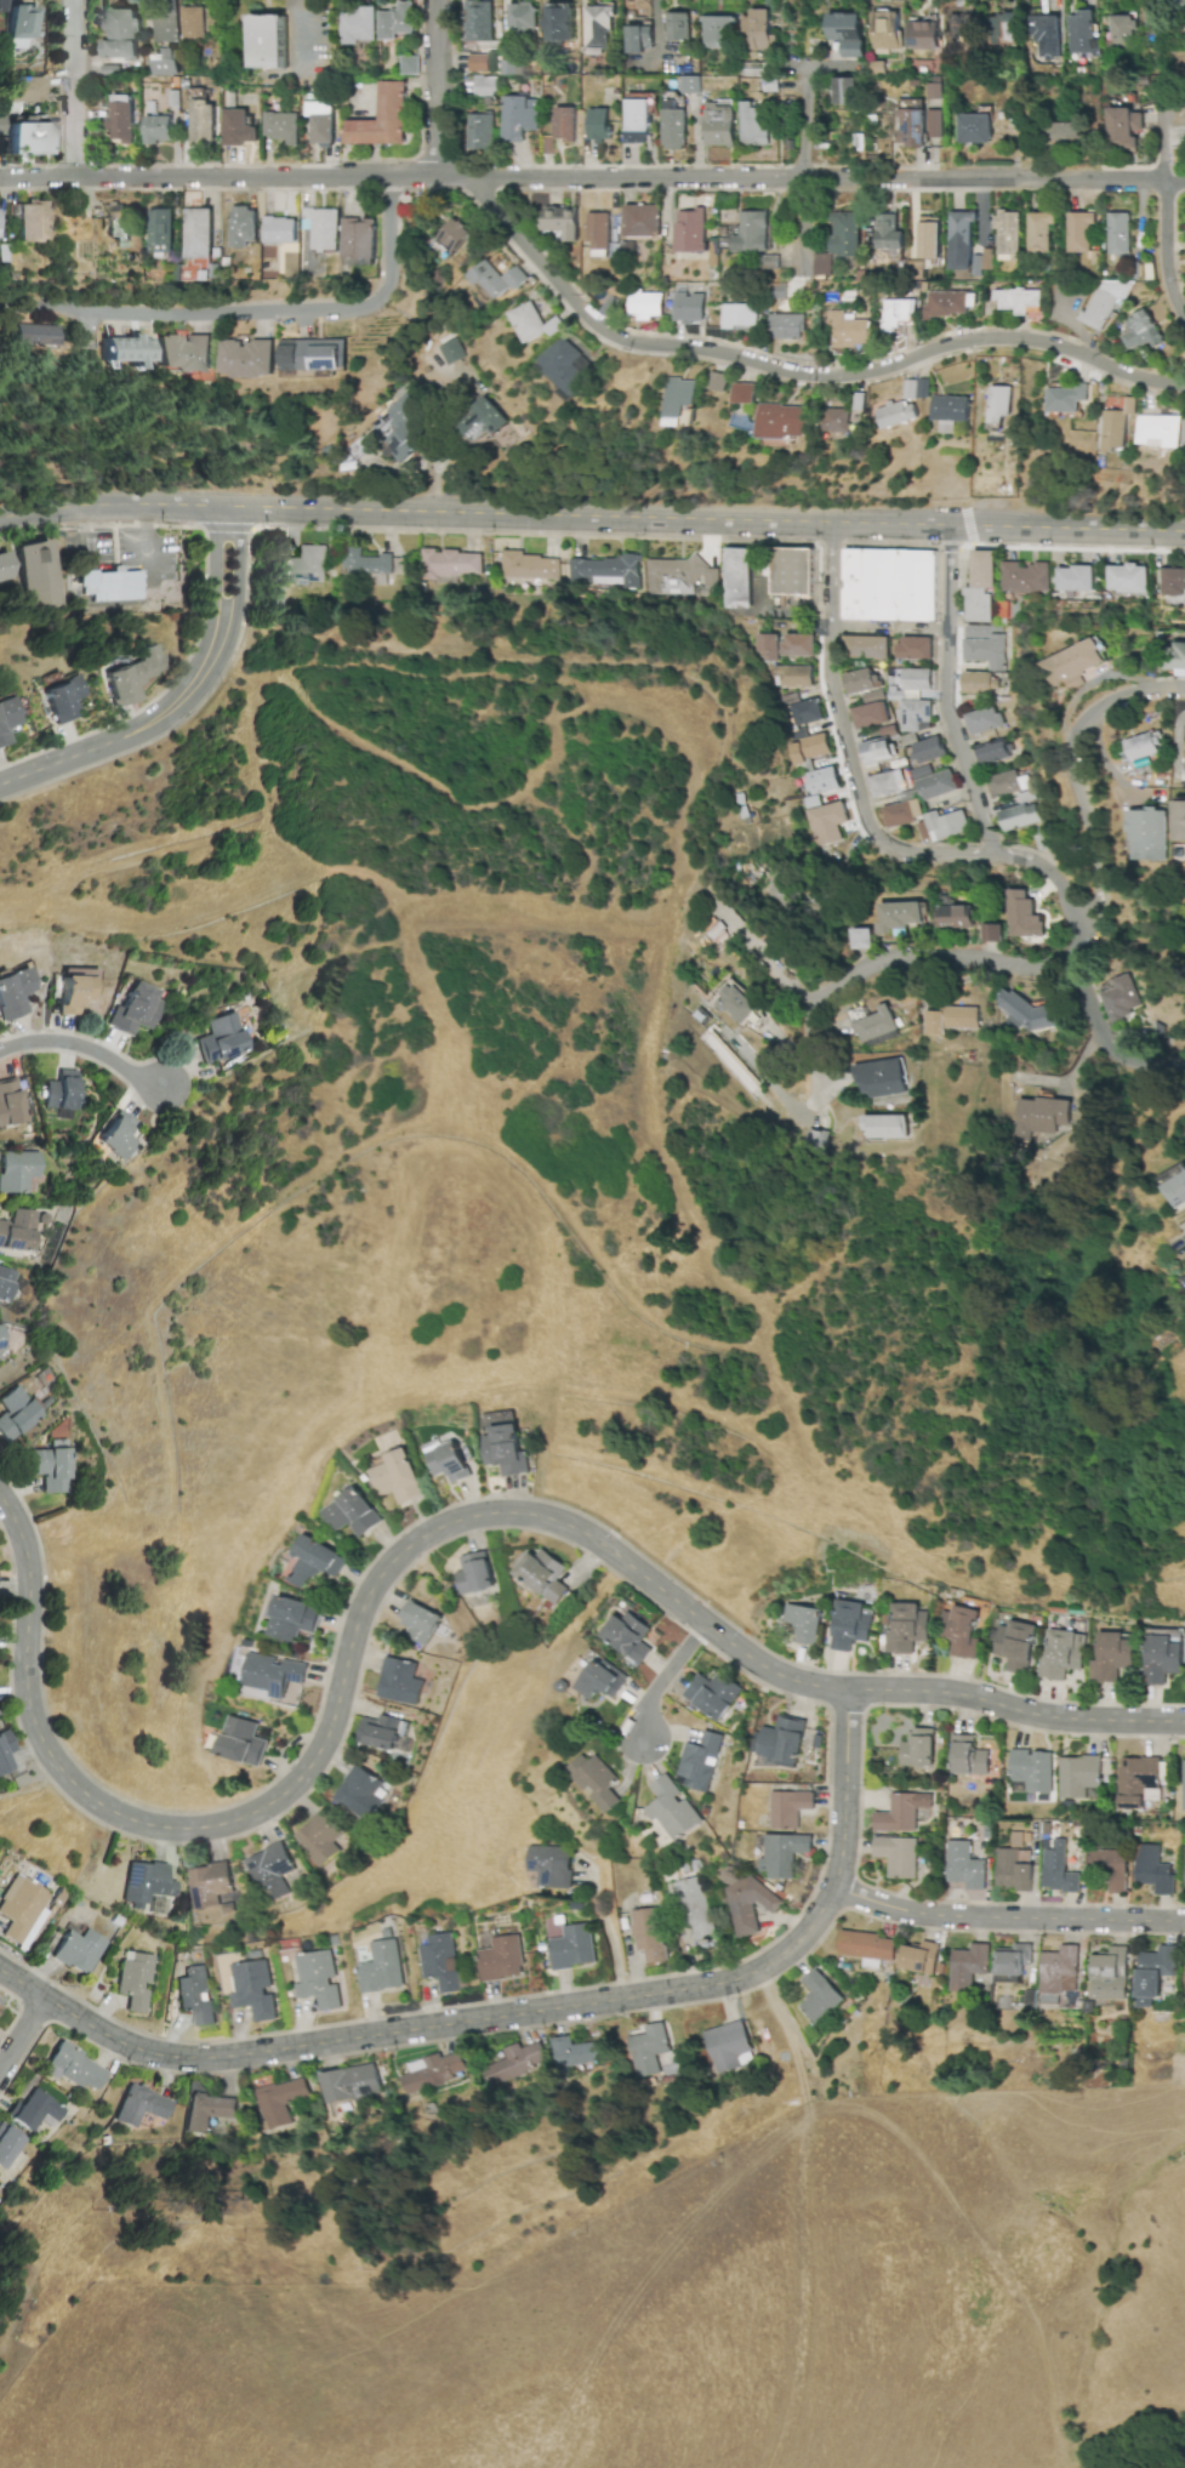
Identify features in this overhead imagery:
building: (523, 18)
building: (395, 21)
building: (479, 21)
building: (962, 22)
building: (192, 23)
building: (560, 23)
building: (19, 25)
building: (359, 25)
building: (678, 25)
building: (164, 28)
building: (598, 28)
building: (1003, 28)
building: (885, 29)
building: (757, 30)
building: (718, 32)
building: (847, 33)
building: (1121, 33)
building: (1082, 34)
building: (120, 35)
building: (923, 35)
building: (1044, 35)
road: (294, 36)
building: (640, 38)
building: (267, 41)
building: (166, 62)
building: (477, 63)
building: (408, 64)
building: (508, 67)
building: (689, 84)
building: (484, 86)
building: (23, 90)
road: (75, 90)
road: (438, 91)
building: (844, 91)
road: (1178, 97)
building: (639, 115)
building: (519, 116)
building: (121, 119)
building: (381, 119)
building: (321, 121)
building: (204, 122)
building: (911, 122)
building: (565, 124)
building: (719, 124)
building: (935, 124)
building: (0, 125)
building: (599, 125)
building: (753, 125)
building: (281, 126)
building: (673, 126)
building: (238, 127)
building: (1124, 127)
building: (158, 129)
building: (973, 129)
building: (479, 131)
road: (1169, 132)
building: (1067, 135)
building: (24, 136)
road: (804, 172)
road: (582, 182)
road: (1175, 182)
building: (29, 221)
building: (563, 221)
building: (642, 221)
building: (115, 223)
building: (243, 226)
building: (321, 228)
building: (279, 229)
building: (161, 230)
building: (598, 230)
building: (690, 230)
building: (1039, 230)
building: (1079, 232)
building: (199, 233)
building: (751, 233)
building: (888, 233)
building: (1117, 233)
building: (452, 234)
building: (844, 234)
building: (1008, 235)
building: (929, 238)
building: (961, 240)
building: (358, 241)
road: (1167, 251)
building: (769, 262)
building: (822, 264)
building: (499, 279)
building: (776, 291)
building: (1019, 301)
building: (1105, 302)
building: (946, 303)
building: (645, 306)
building: (689, 308)
road: (253, 313)
building: (895, 314)
building: (740, 317)
building: (532, 323)
building: (786, 326)
road: (86, 329)
building: (845, 330)
building: (1141, 331)
building: (34, 335)
building: (124, 350)
building: (448, 350)
building: (183, 353)
building: (311, 354)
building: (246, 358)
building: (566, 366)
road: (797, 374)
building: (719, 381)
building: (917, 388)
building: (745, 393)
building: (1066, 399)
building: (680, 403)
building: (997, 404)
building: (948, 411)
building: (896, 414)
building: (484, 421)
building: (784, 421)
building: (838, 421)
building: (398, 428)
building: (1113, 431)
building: (1158, 431)
road: (591, 517)
road: (99, 526)
road: (230, 526)
road: (969, 526)
road: (330, 529)
road: (89, 536)
road: (115, 537)
road: (832, 543)
road: (855, 543)
road: (147, 545)
road: (952, 548)
parking lot: (90, 551)
parking lot: (149, 555)
building: (303, 565)
building: (369, 565)
building: (450, 565)
building: (528, 565)
building: (5, 566)
building: (603, 570)
building: (792, 571)
building: (39, 575)
building: (679, 577)
building: (1024, 577)
building: (739, 578)
building: (1073, 578)
building: (1126, 578)
building: (1172, 581)
building: (113, 585)
building: (889, 585)
building: (981, 587)
road: (959, 617)
road: (888, 628)
building: (796, 645)
building: (985, 645)
building: (765, 646)
building: (865, 646)
building: (915, 648)
building: (1175, 656)
building: (1075, 665)
building: (126, 676)
building: (791, 676)
building: (860, 680)
building: (910, 683)
building: (976, 683)
road: (946, 694)
building: (58, 696)
building: (872, 696)
building: (802, 713)
building: (868, 716)
building: (913, 716)
building: (5, 720)
building: (982, 720)
road: (139, 731)
road: (975, 741)
road: (845, 742)
building: (808, 748)
building: (928, 749)
building: (876, 751)
building: (992, 752)
road: (64, 760)
road: (554, 760)
building: (820, 780)
building: (933, 782)
building: (1005, 782)
building: (885, 783)
road: (1086, 786)
road: (695, 799)
building: (901, 813)
building: (1018, 816)
building: (1179, 820)
building: (825, 822)
road: (234, 825)
building: (946, 825)
building: (1149, 834)
road: (586, 847)
road: (1048, 863)
road: (1055, 882)
building: (780, 891)
building: (1021, 914)
building: (953, 917)
road: (540, 920)
building: (991, 933)
building: (861, 937)
road: (403, 941)
road: (876, 967)
building: (73, 988)
building: (12, 993)
building: (1120, 998)
building: (736, 1003)
building: (131, 1010)
building: (951, 1019)
building: (877, 1027)
road: (1105, 1037)
building: (217, 1038)
road: (85, 1049)
building: (881, 1078)
building: (59, 1094)
building: (10, 1102)
road: (810, 1105)
building: (1039, 1116)
building: (887, 1127)
building: (116, 1135)
building: (816, 1138)
road: (363, 1151)
building: (17, 1170)
building: (1175, 1191)
building: (17, 1230)
building: (1184, 1278)
building: (5, 1282)
building: (0, 1344)
building: (13, 1413)
building: (505, 1449)
building: (448, 1463)
building: (50, 1466)
building: (398, 1477)
road: (673, 1492)
building: (353, 1514)
road: (414, 1546)
building: (314, 1562)
building: (474, 1573)
building: (542, 1574)
building: (291, 1618)
building: (418, 1621)
building: (805, 1623)
building: (850, 1625)
building: (907, 1628)
building: (963, 1631)
building: (628, 1635)
building: (1016, 1645)
building: (1062, 1654)
building: (1162, 1655)
building: (1112, 1657)
building: (268, 1675)
building: (602, 1680)
road: (666, 1680)
building: (399, 1682)
building: (713, 1694)
building: (380, 1732)
building: (241, 1742)
building: (781, 1743)
building: (917, 1749)
building: (4, 1750)
building: (968, 1756)
building: (699, 1762)
building: (1078, 1776)
building: (1136, 1779)
building: (596, 1780)
building: (1183, 1786)
building: (358, 1794)
building: (671, 1808)
building: (790, 1808)
building: (901, 1812)
building: (318, 1837)
building: (782, 1853)
building: (898, 1856)
building: (552, 1864)
building: (964, 1865)
building: (1112, 1868)
building: (1014, 1869)
building: (1152, 1869)
building: (270, 1871)
building: (146, 1883)
building: (209, 1883)
building: (1184, 1885)
building: (746, 1899)
building: (22, 1909)
building: (694, 1909)
road: (1007, 1920)
road: (610, 1932)
building: (646, 1933)
building: (866, 1945)
building: (572, 1947)
building: (78, 1950)
building: (919, 1957)
building: (501, 1959)
building: (440, 1961)
building: (1013, 1962)
building: (968, 1966)
building: (381, 1967)
building: (1060, 1970)
building: (1156, 1973)
building: (1111, 1974)
building: (133, 1979)
building: (318, 1979)
building: (253, 1989)
building: (194, 1994)
building: (819, 1996)
road: (524, 2011)
road: (22, 2037)
building: (728, 2046)
building: (648, 2048)
building: (577, 2052)
building: (517, 2061)
building: (74, 2068)
building: (433, 2071)
building: (349, 2082)
building: (279, 2102)
building: (139, 2105)
building: (32, 2110)
building: (205, 2110)
road: (871, 2115)
building: (7, 2145)
road: (1173, 2462)

